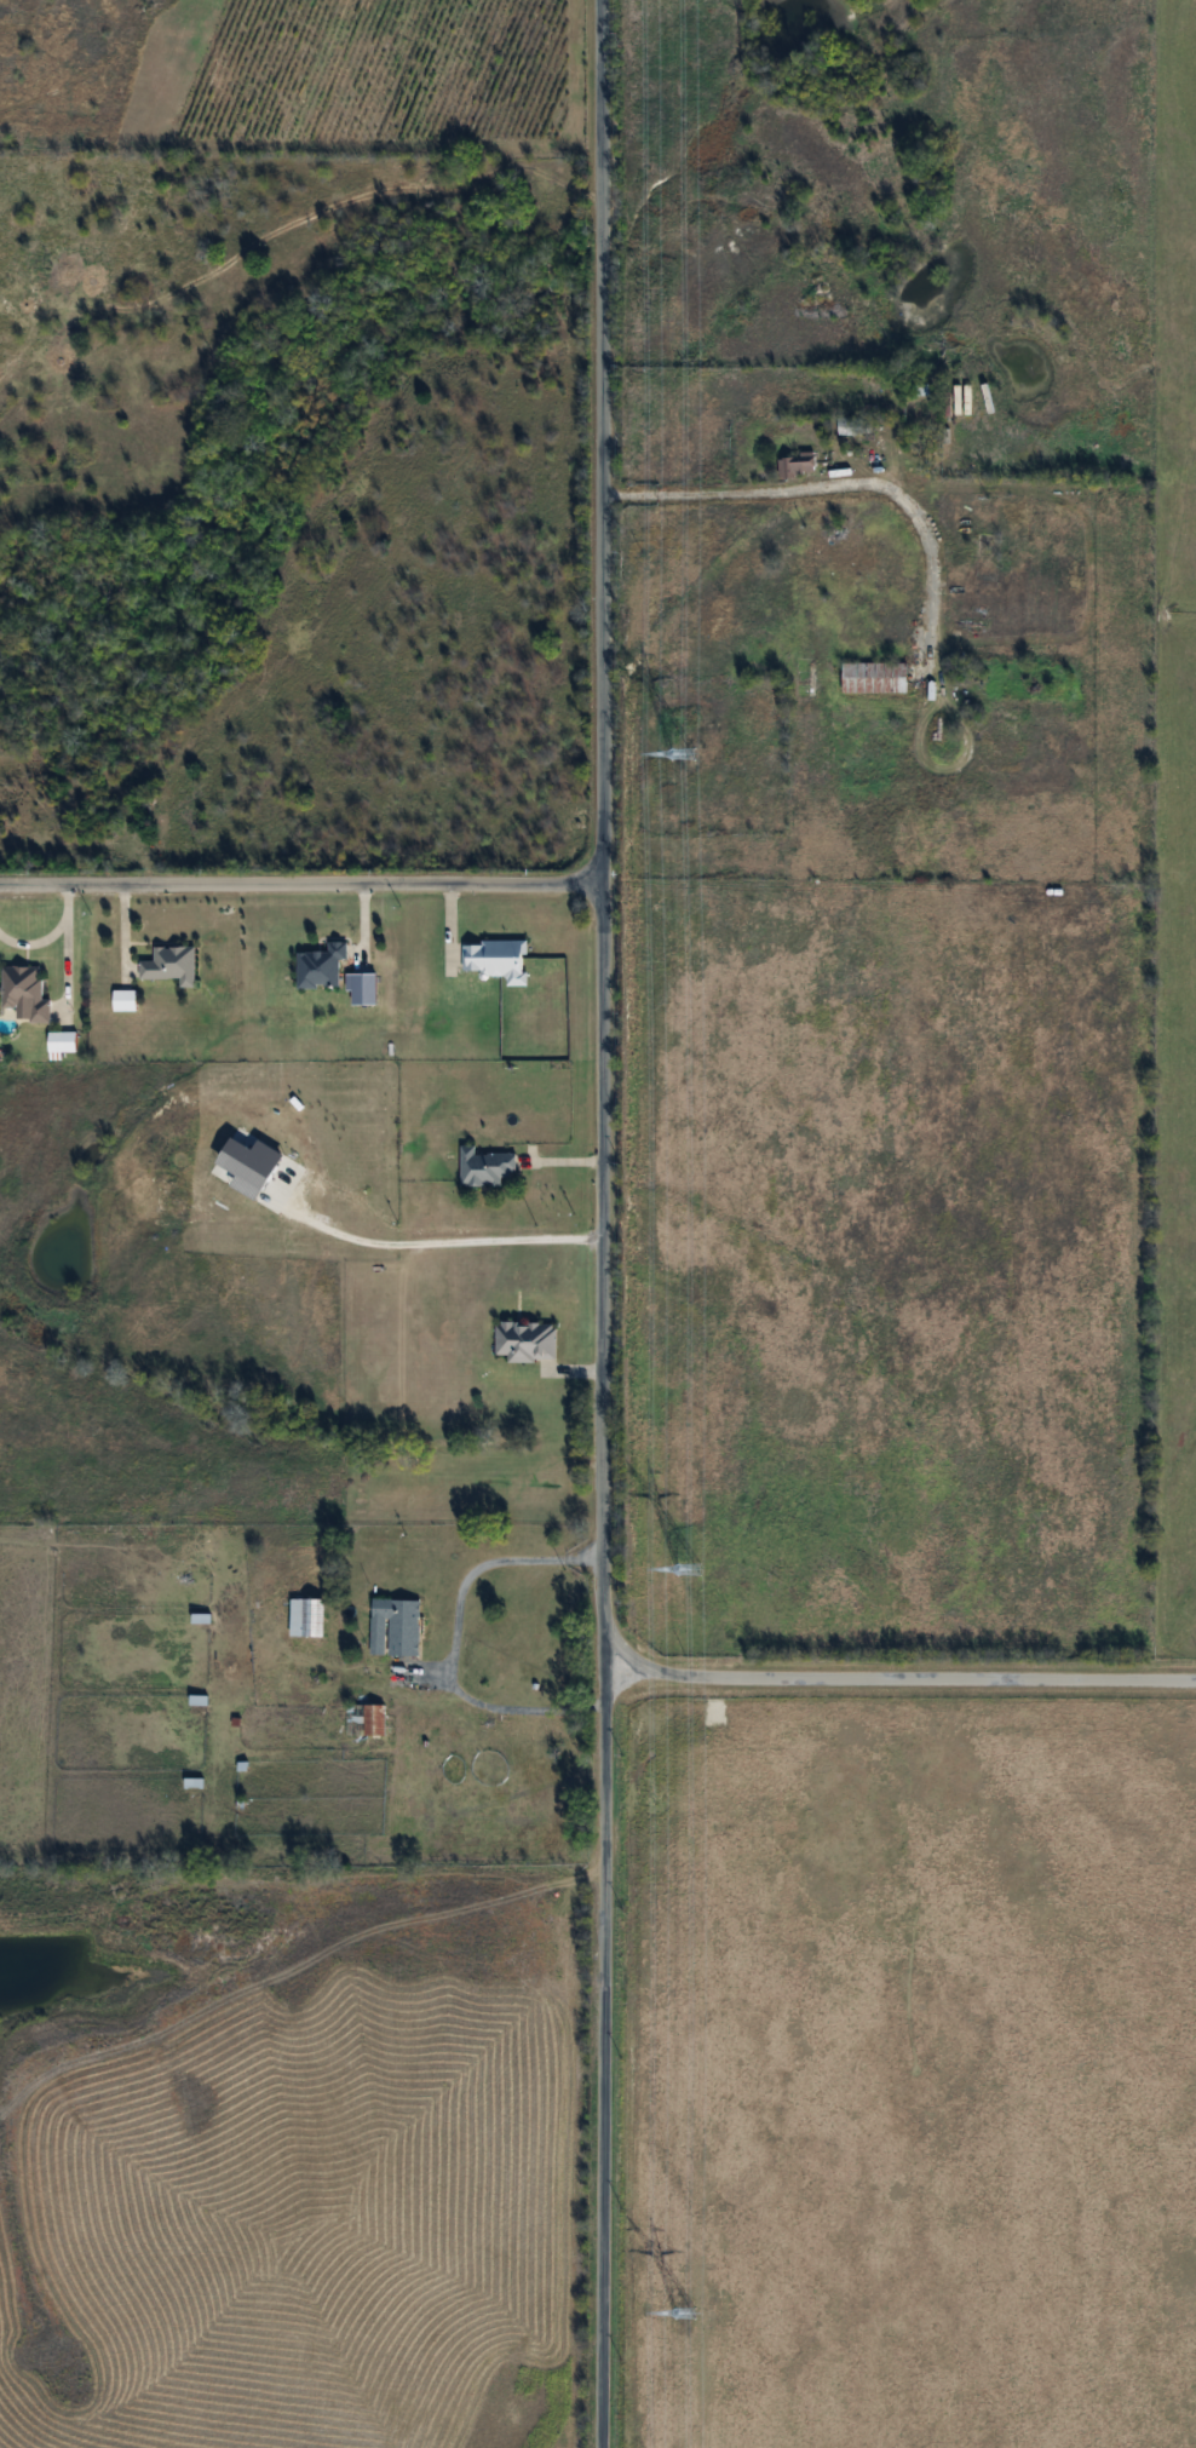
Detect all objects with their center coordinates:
building: (845, 427)
building: (794, 462)
road: (827, 484)
building: (873, 677)
power tower: (684, 755)
road: (300, 885)
building: (495, 960)
building: (169, 965)
building: (321, 966)
building: (24, 992)
building: (484, 1167)
road: (603, 1224)
road: (441, 1240)
building: (525, 1341)
building: (42, 1533)
building: (202, 1551)
power tower: (690, 1569)
building: (305, 1619)
building: (395, 1628)
road: (450, 1643)
road: (899, 1679)
building: (364, 1722)
power tower: (685, 2315)

